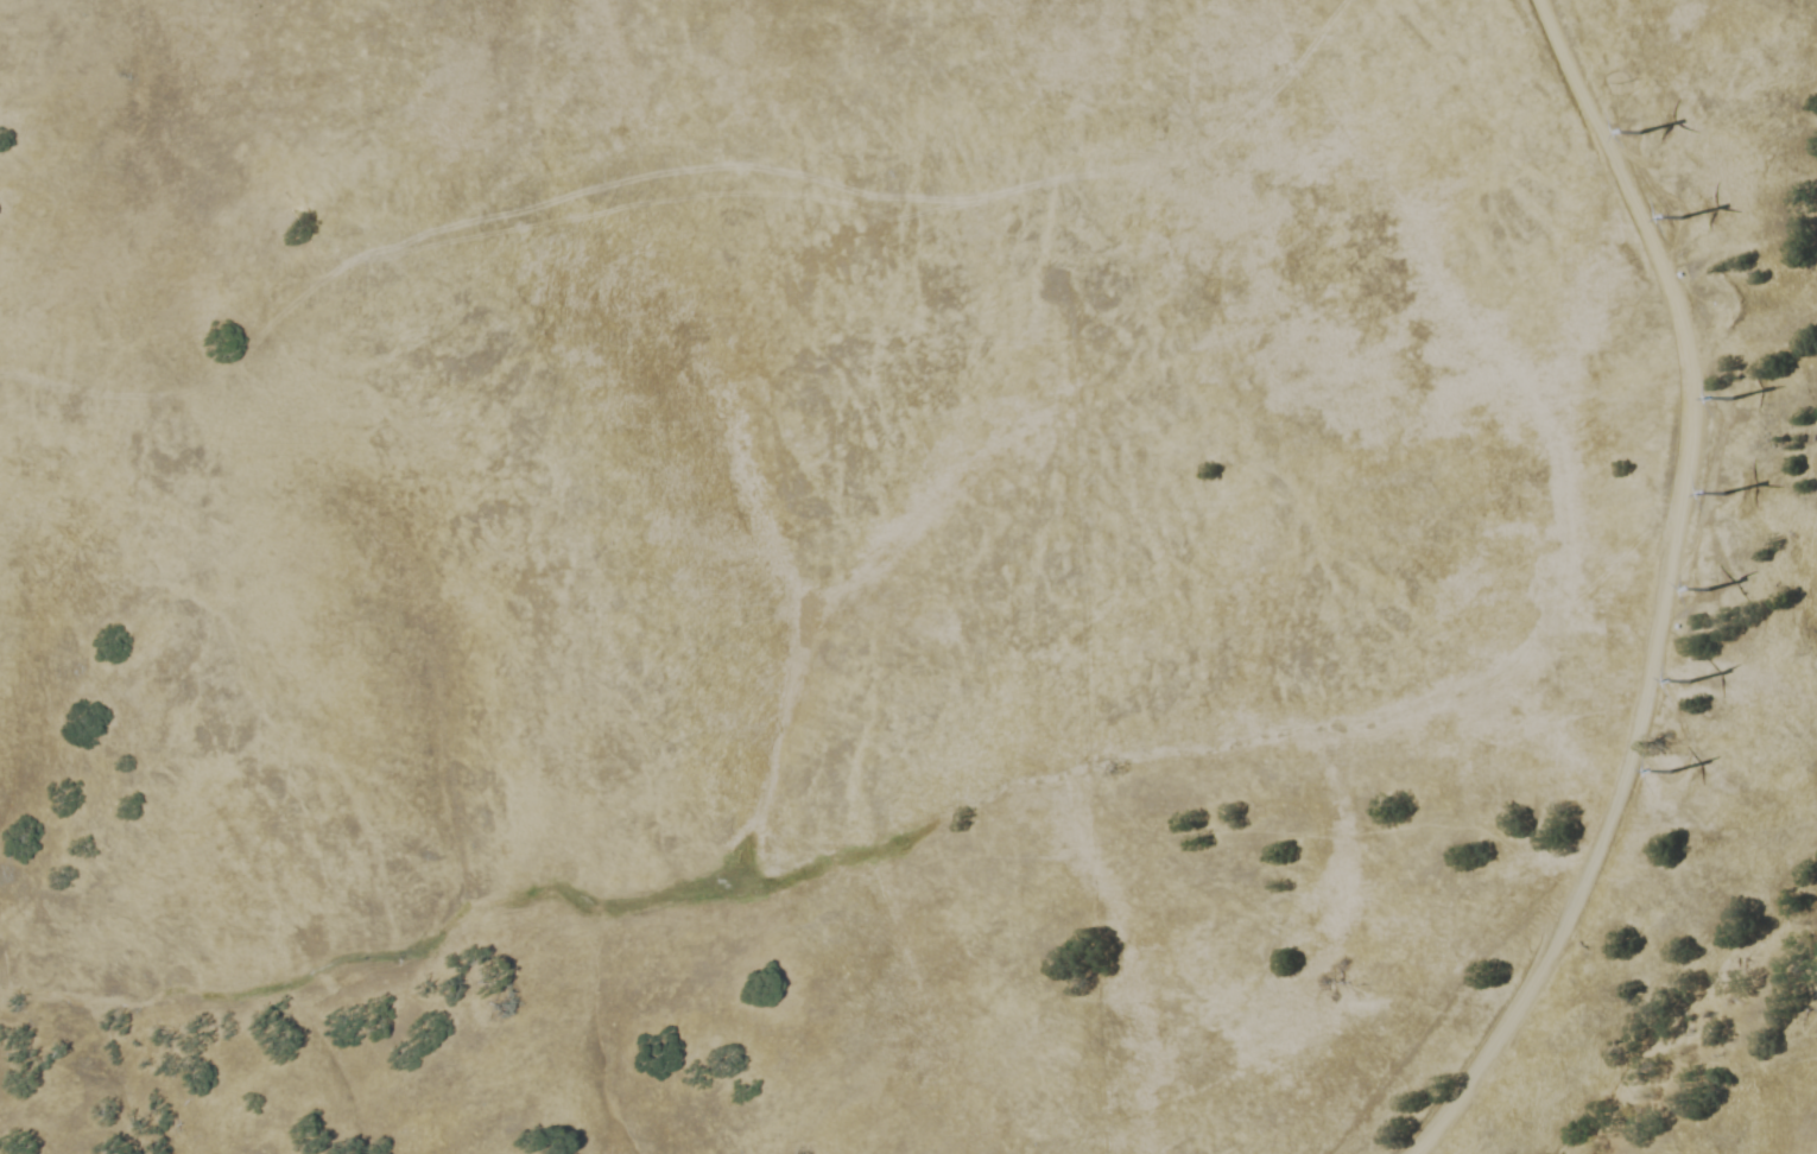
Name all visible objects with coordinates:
wind turbine: (1651, 126)
wind turbine: (1693, 204)
wind turbine: (1743, 397)
wind turbine: (1741, 489)
road: (1704, 501)
wind turbine: (1727, 591)
road: (1664, 594)
wind turbine: (1715, 681)
road: (1683, 752)
wind turbine: (1679, 765)

